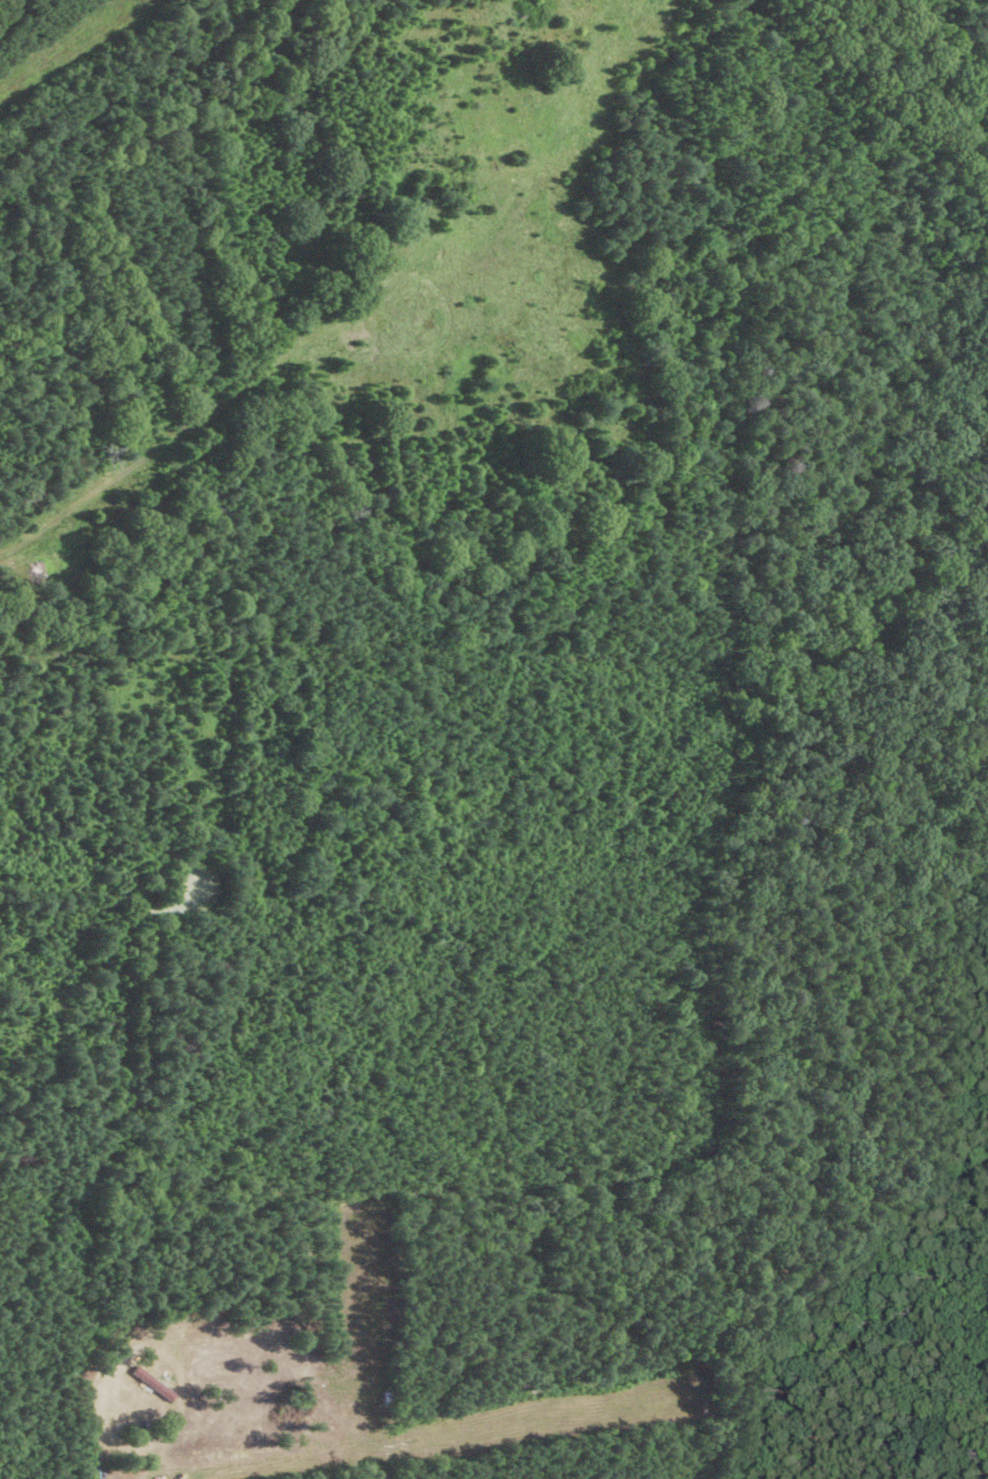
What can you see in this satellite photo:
road: (117, 1437)

